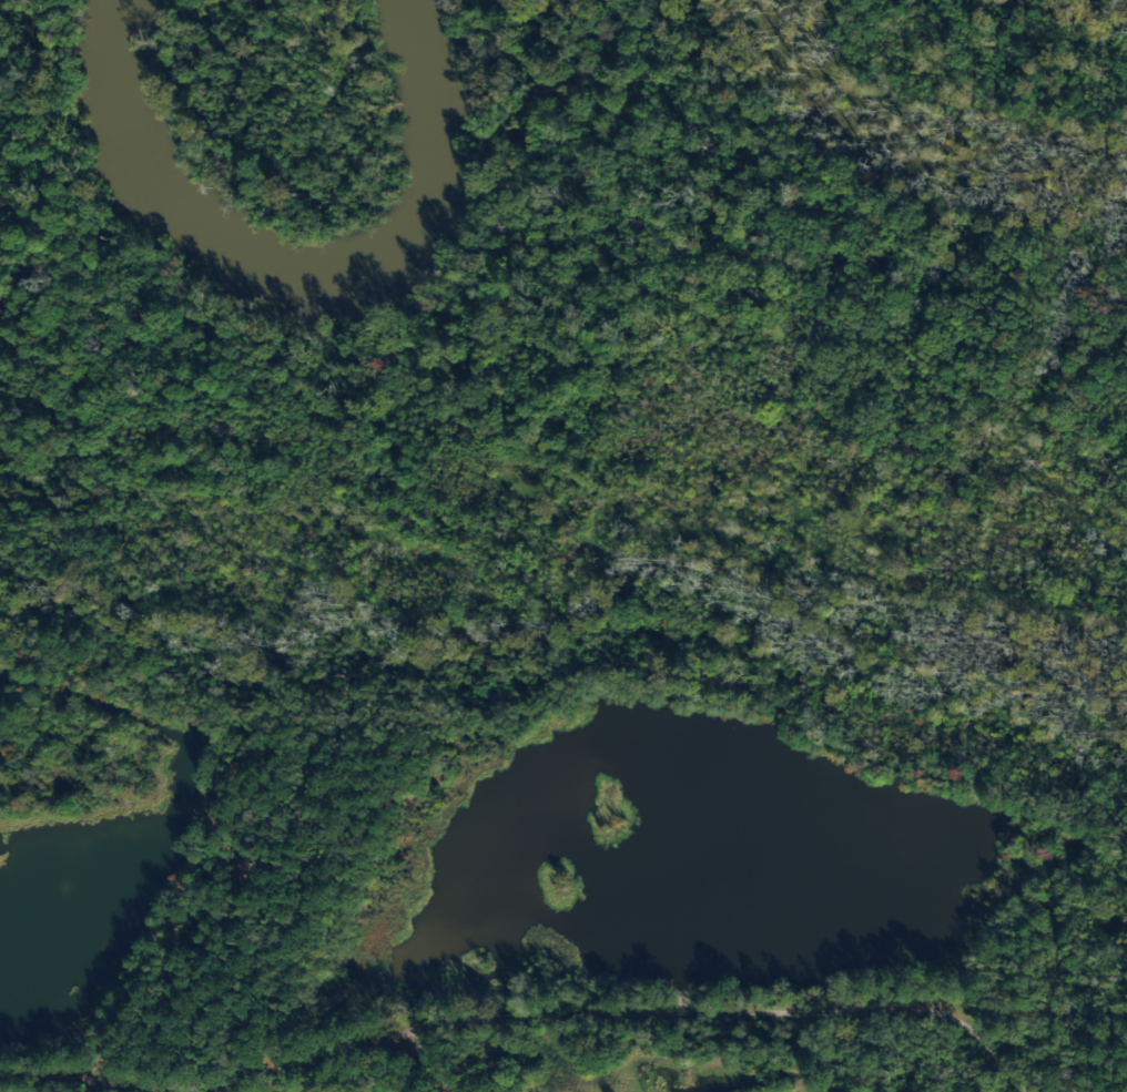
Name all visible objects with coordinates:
river: (301, 269)

